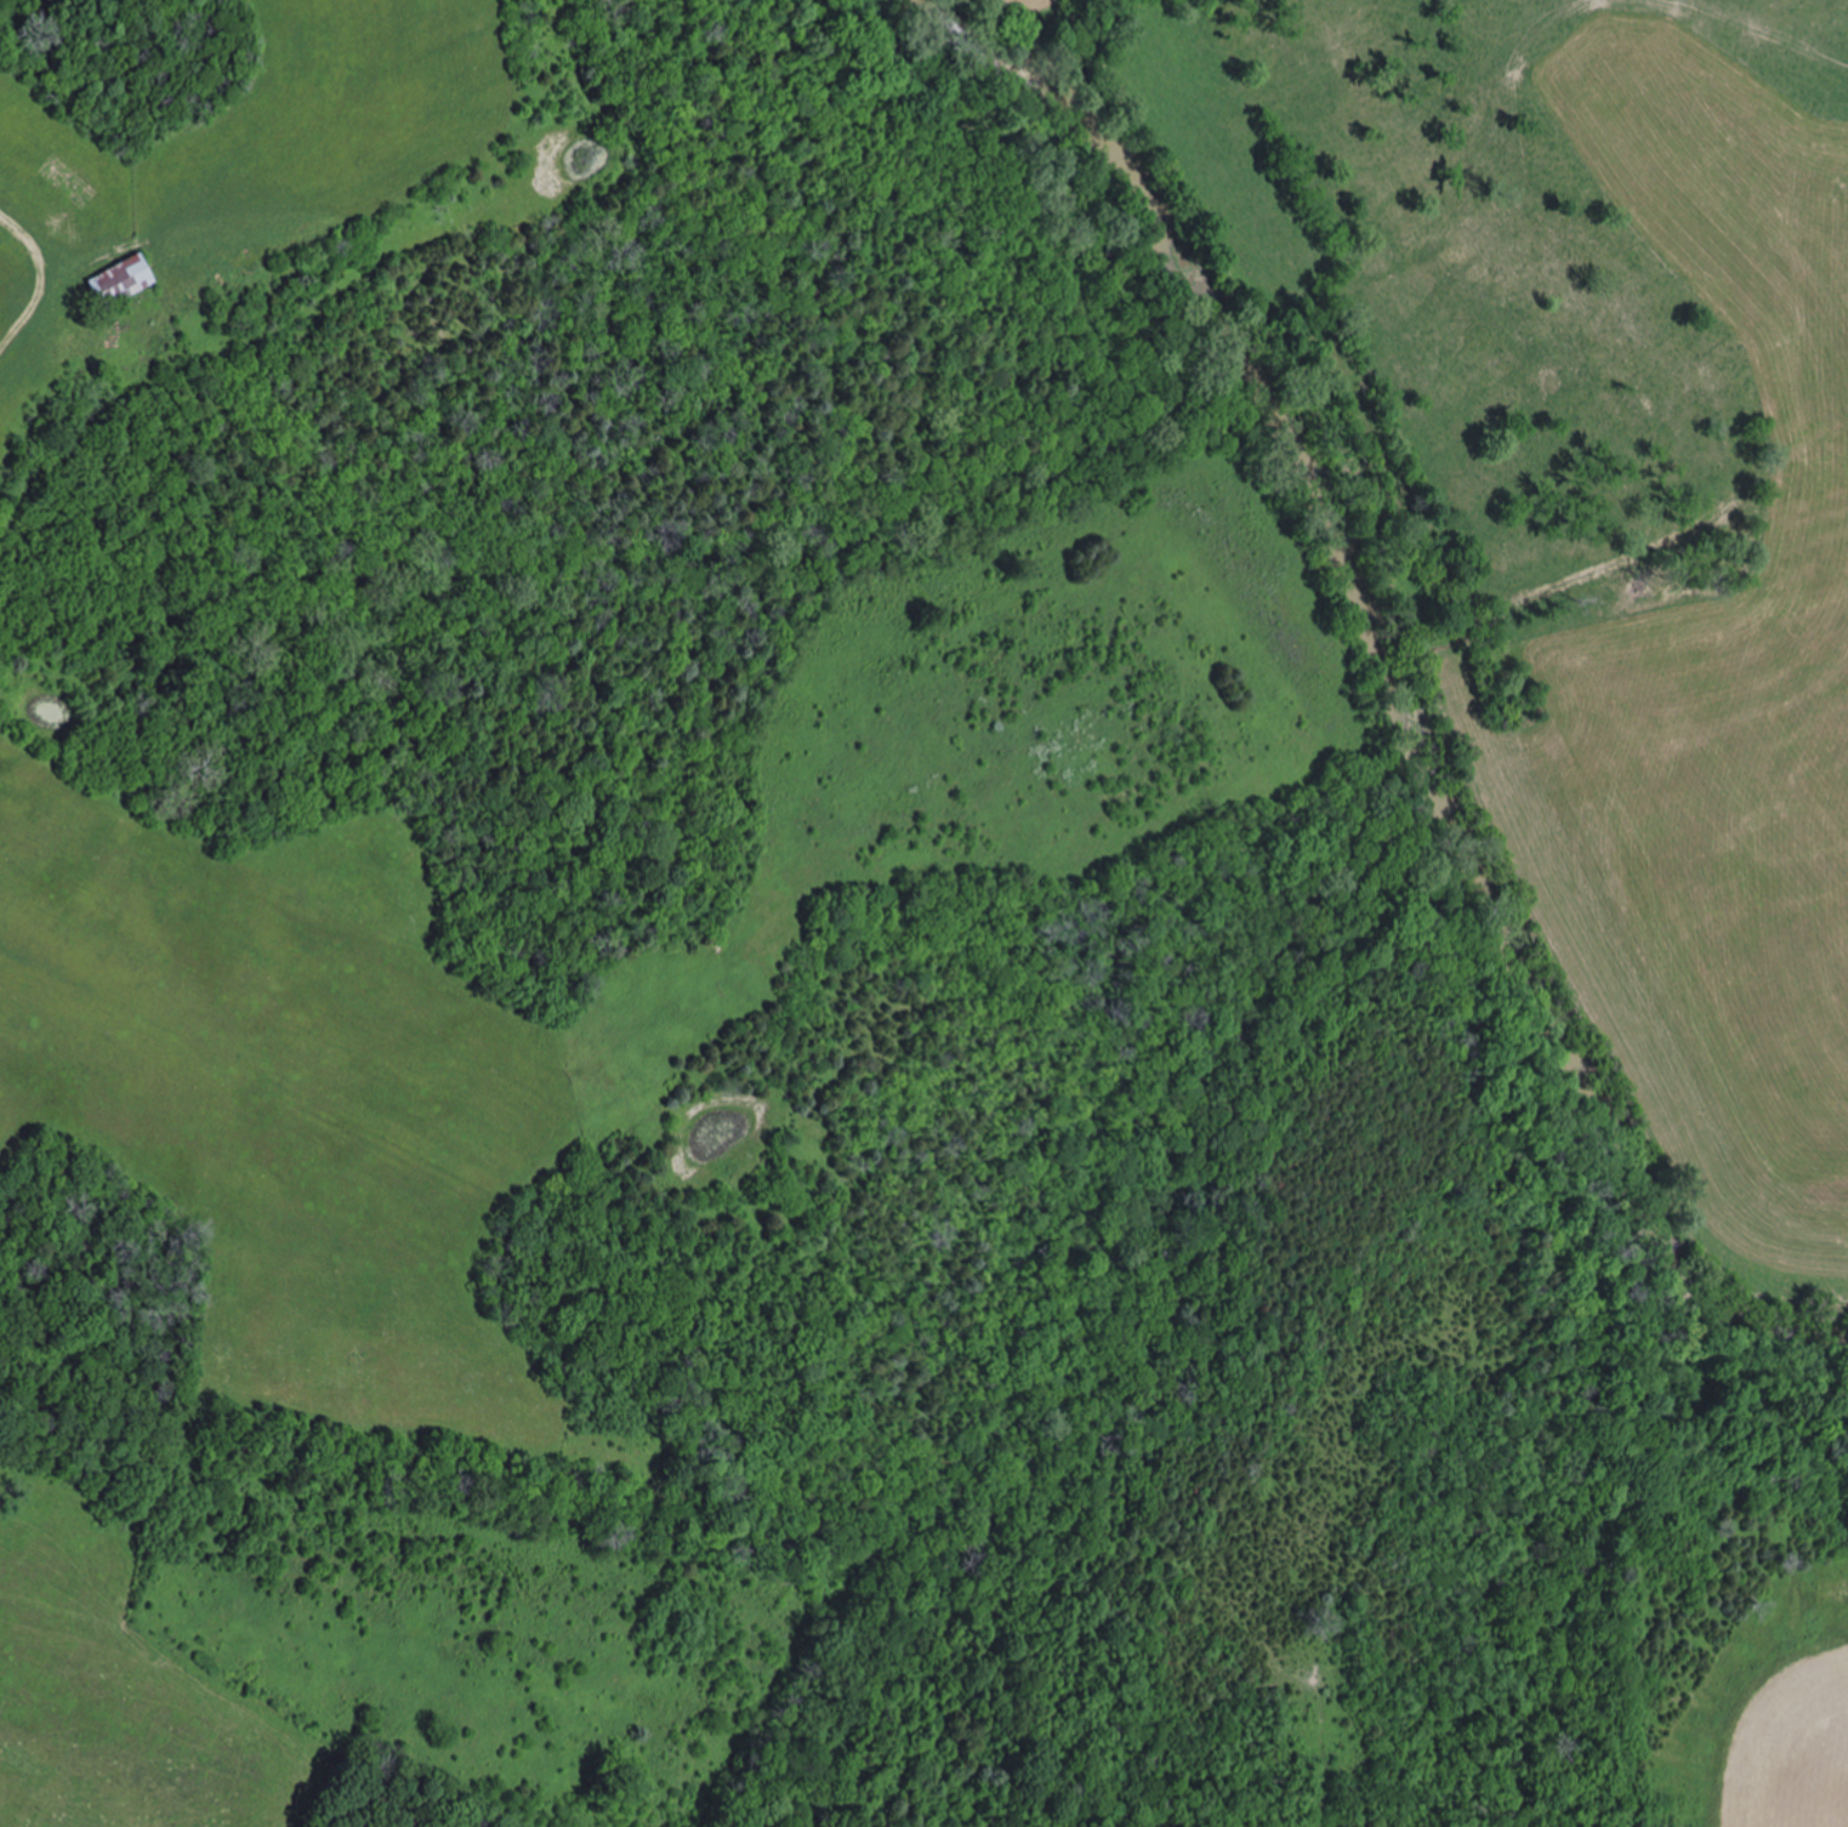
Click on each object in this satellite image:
building: (115, 281)
road: (35, 284)
river: (1389, 676)

